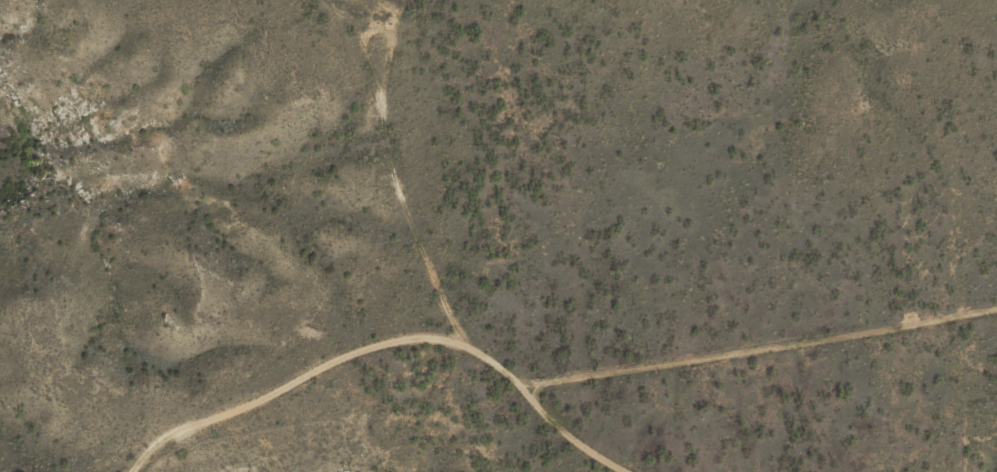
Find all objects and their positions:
road: (429, 265)
road: (765, 350)
road: (303, 379)

